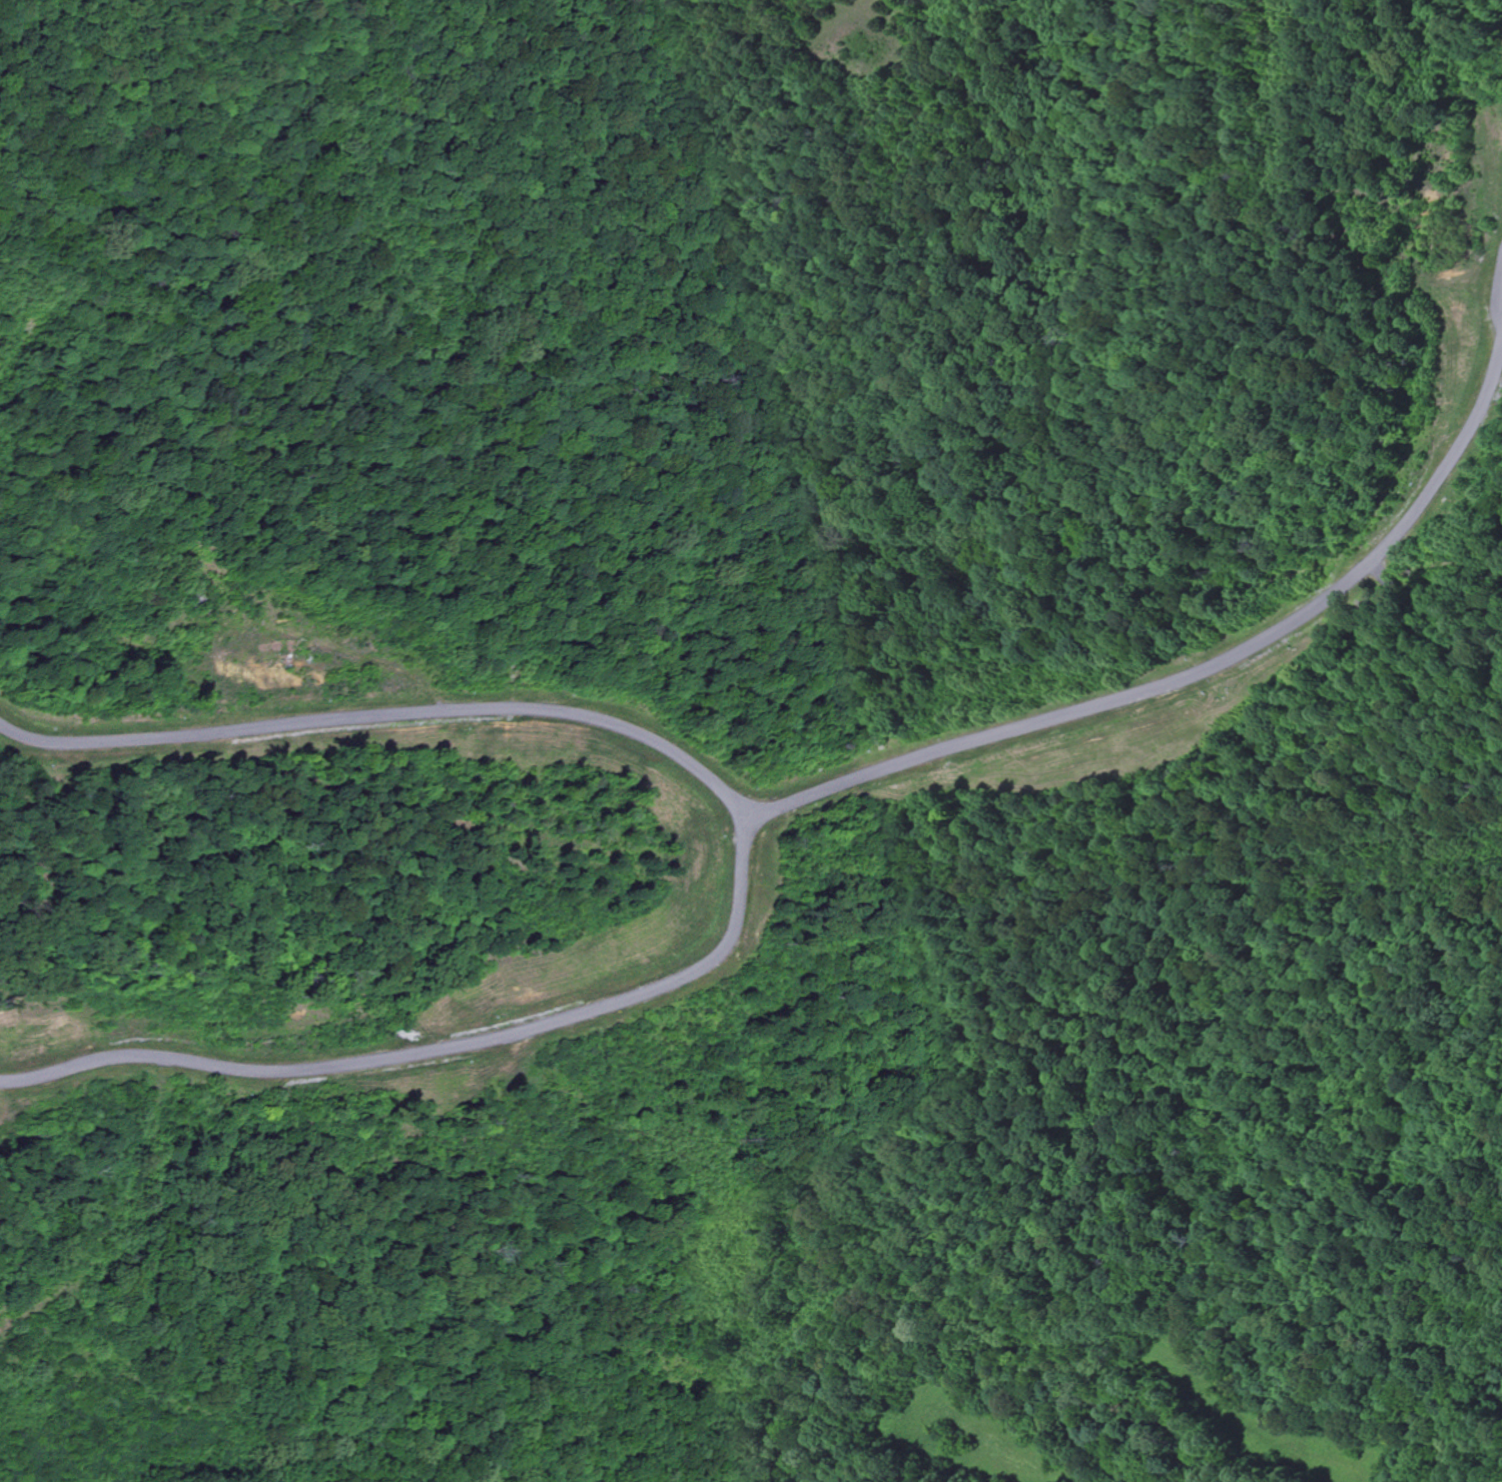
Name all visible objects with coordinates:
road: (253, 1233)

